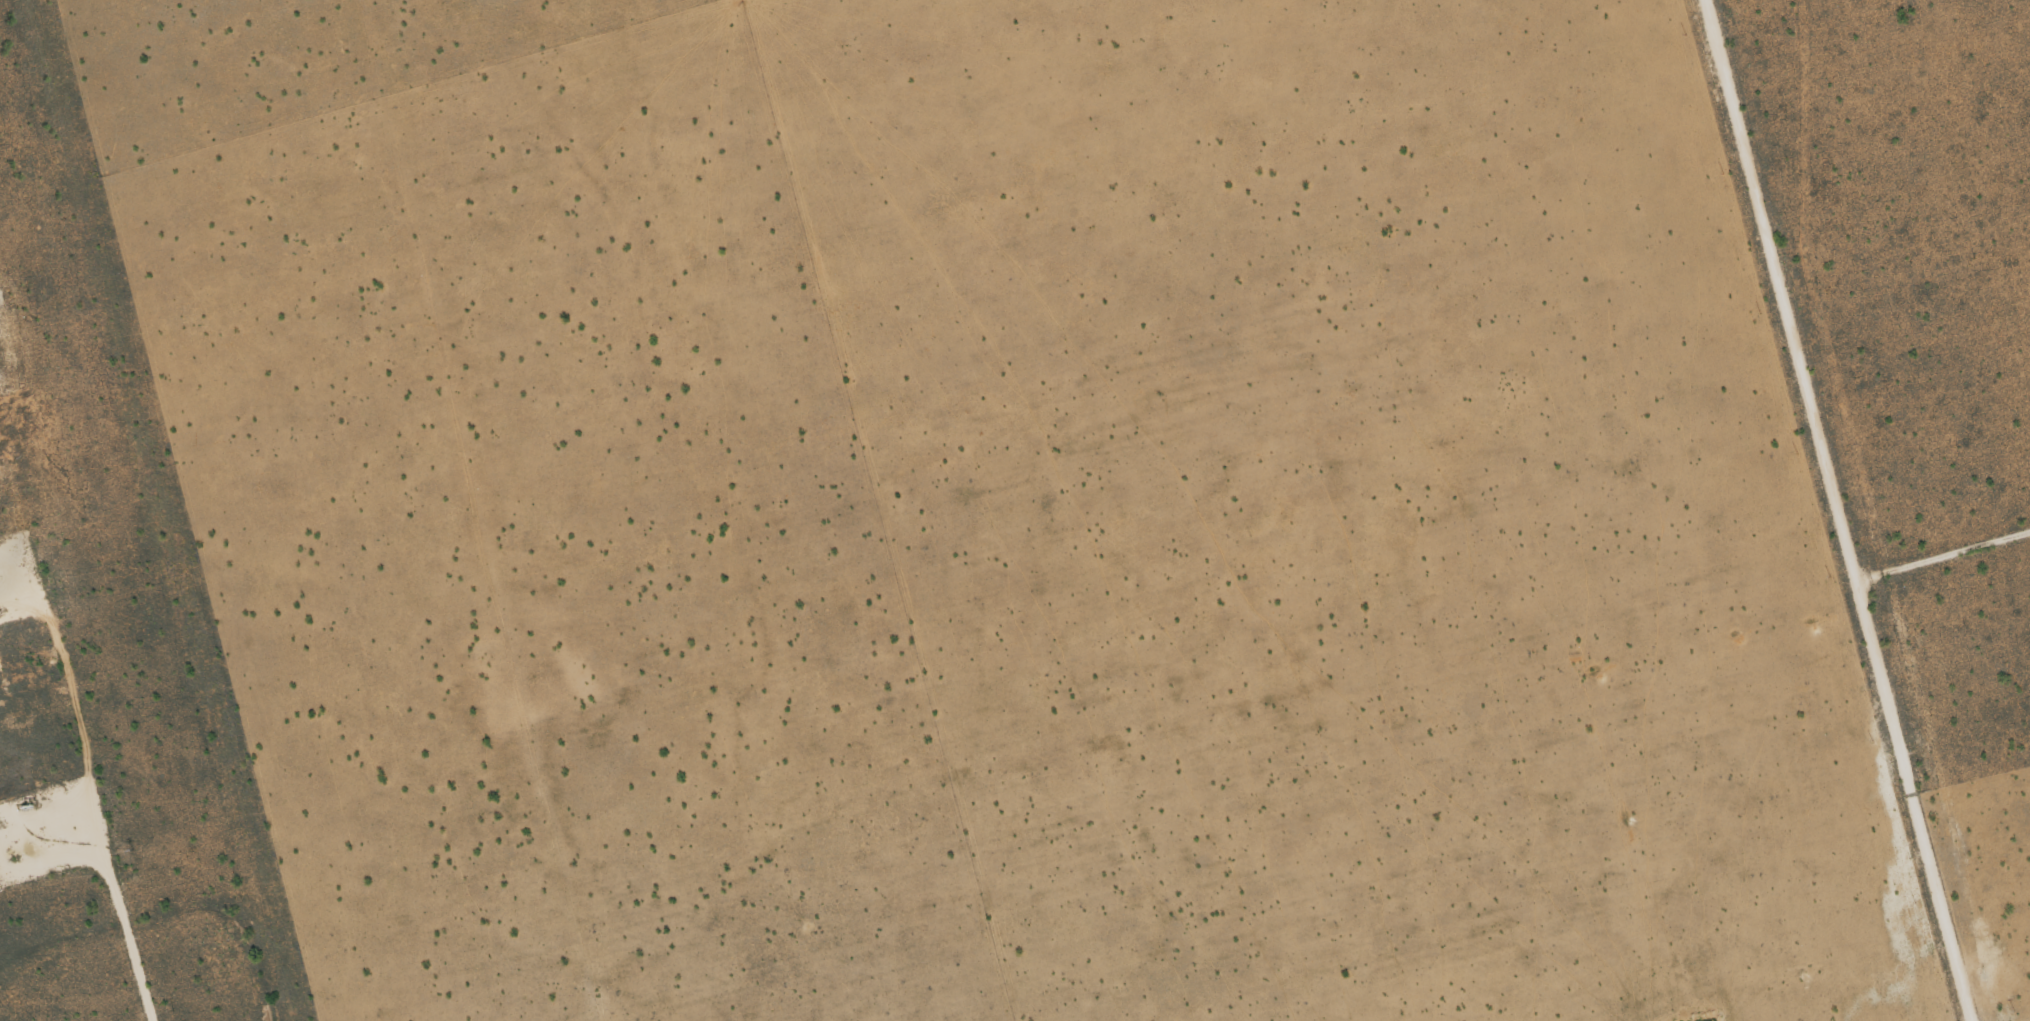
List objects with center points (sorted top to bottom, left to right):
road: (1839, 510)

